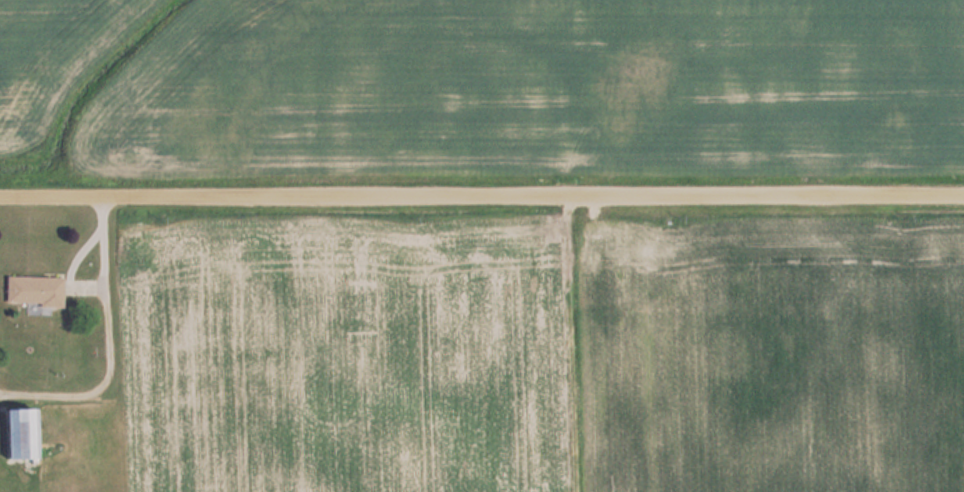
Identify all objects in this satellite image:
road: (482, 196)
building: (35, 291)
building: (22, 434)

